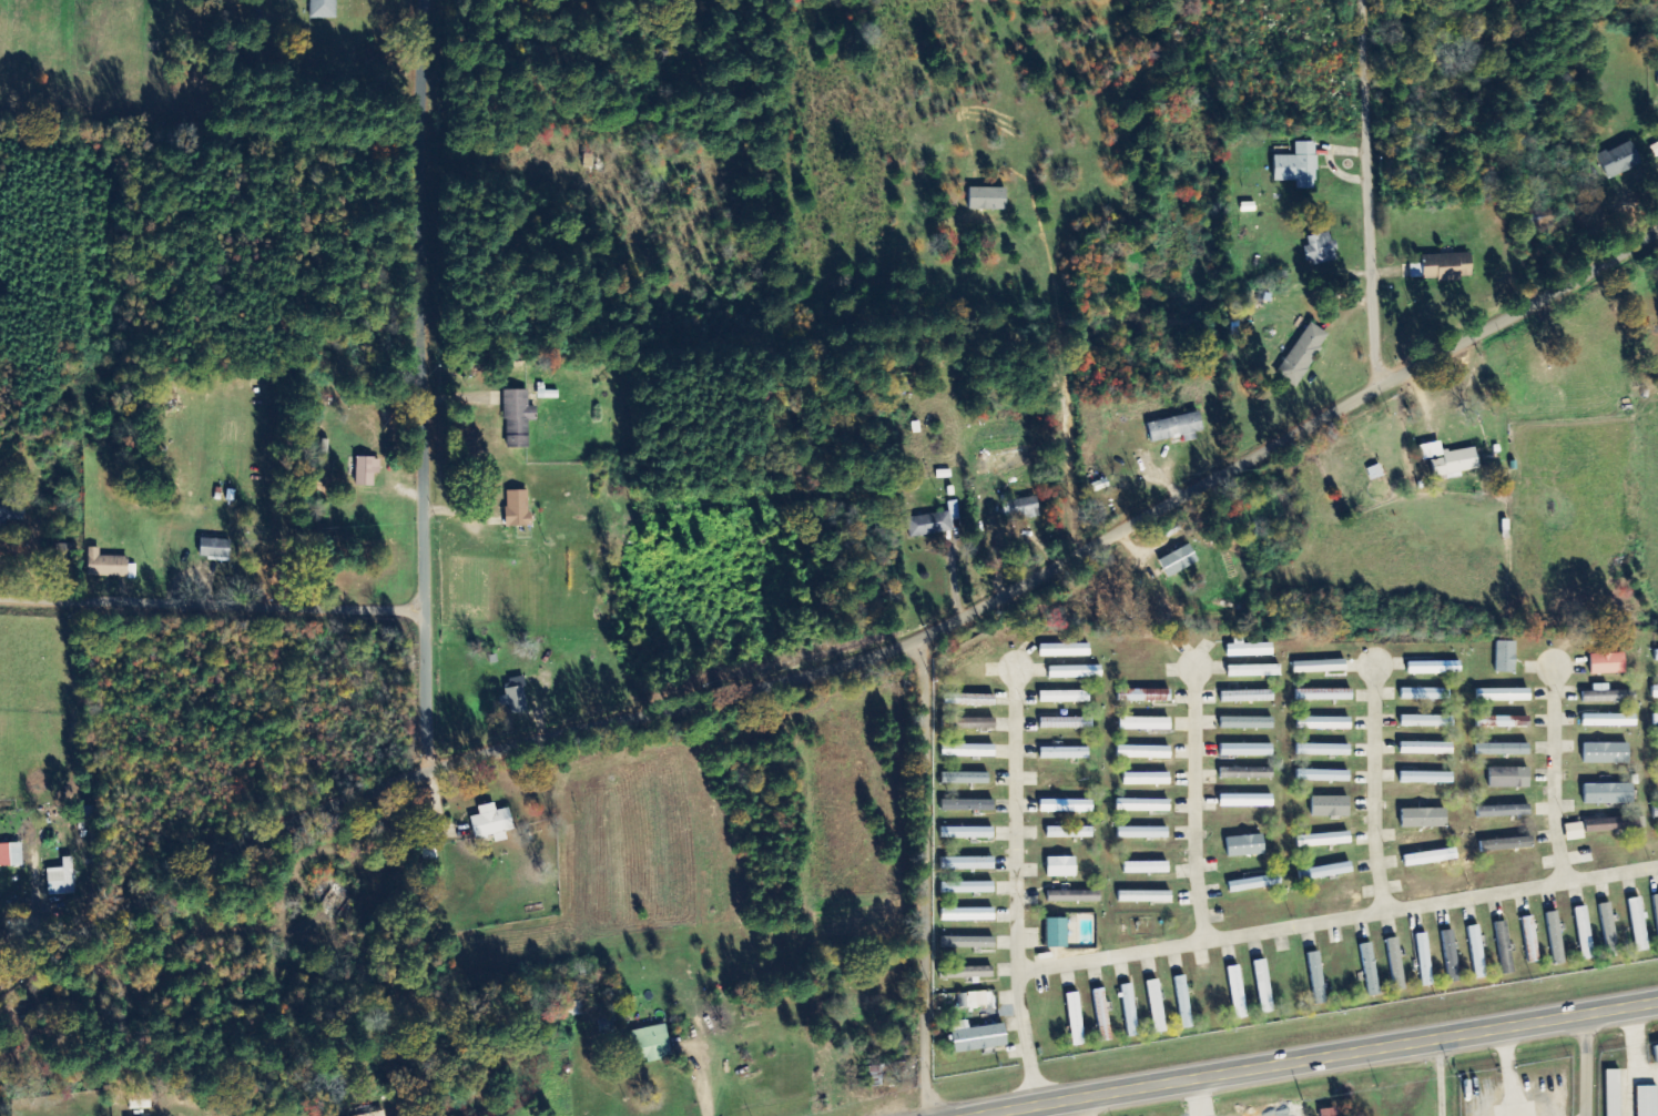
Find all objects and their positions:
building: (323, 9)
building: (1619, 160)
building: (1299, 166)
road: (1371, 193)
building: (988, 199)
building: (1320, 250)
building: (1443, 266)
building: (1303, 355)
road: (437, 383)
building: (518, 418)
building: (1176, 428)
building: (1005, 460)
building: (1450, 460)
building: (367, 471)
building: (518, 508)
building: (1024, 508)
building: (11, 510)
building: (935, 523)
building: (215, 549)
building: (1179, 561)
building: (109, 566)
road: (217, 607)
building: (1249, 649)
building: (1065, 650)
building: (1656, 656)
building: (1506, 657)
building: (967, 659)
building: (1608, 664)
road: (852, 666)
building: (1320, 667)
building: (1434, 668)
building: (1254, 671)
building: (1075, 672)
building: (1655, 692)
building: (1324, 694)
building: (1425, 694)
building: (1504, 694)
building: (516, 696)
building: (1143, 696)
building: (1607, 696)
building: (1065, 697)
building: (1247, 697)
building: (969, 700)
building: (1609, 720)
building: (1655, 720)
building: (1427, 721)
building: (1512, 721)
building: (1066, 723)
building: (1145, 723)
building: (1247, 723)
building: (1324, 723)
building: (1426, 749)
building: (1247, 750)
building: (1323, 750)
building: (1503, 750)
building: (968, 751)
building: (1143, 752)
building: (1065, 753)
building: (1607, 753)
road: (1554, 771)
building: (1247, 773)
building: (1323, 775)
building: (965, 778)
building: (1426, 778)
building: (1510, 778)
building: (1147, 779)
road: (1374, 787)
building: (1609, 794)
building: (1247, 801)
road: (1196, 802)
building: (968, 805)
building: (1143, 805)
building: (1331, 806)
building: (1505, 811)
building: (1656, 812)
building: (1424, 819)
building: (491, 823)
building: (1615, 825)
building: (1575, 832)
building: (966, 833)
building: (1069, 833)
building: (1143, 833)
building: (1323, 840)
building: (1507, 844)
building: (1245, 846)
building: (11, 855)
building: (1431, 858)
building: (967, 864)
building: (1061, 868)
building: (1146, 868)
building: (1325, 872)
building: (69, 875)
road: (924, 876)
building: (1254, 884)
road: (1017, 885)
building: (967, 887)
building: (1075, 896)
building: (1145, 896)
building: (1656, 912)
building: (967, 915)
road: (1337, 917)
building: (1638, 925)
building: (1609, 930)
building: (1057, 933)
building: (1584, 934)
building: (1556, 937)
building: (1530, 940)
building: (968, 943)
building: (1505, 948)
building: (1477, 953)
building: (1451, 956)
building: (1424, 960)
building: (1396, 964)
building: (1371, 970)
building: (963, 972)
building: (1318, 978)
building: (1263, 986)
building: (1237, 993)
building: (976, 1001)
building: (1183, 1003)
building: (1156, 1006)
building: (576, 1008)
building: (1129, 1011)
building: (1102, 1015)
building: (1076, 1019)
building: (977, 1037)
building: (653, 1044)
building: (1657, 1052)
road: (1313, 1056)
road: (1586, 1063)
building: (887, 1075)
road: (700, 1078)
building: (1614, 1093)
building: (1648, 1100)
building: (1330, 1113)
building: (376, 1114)

